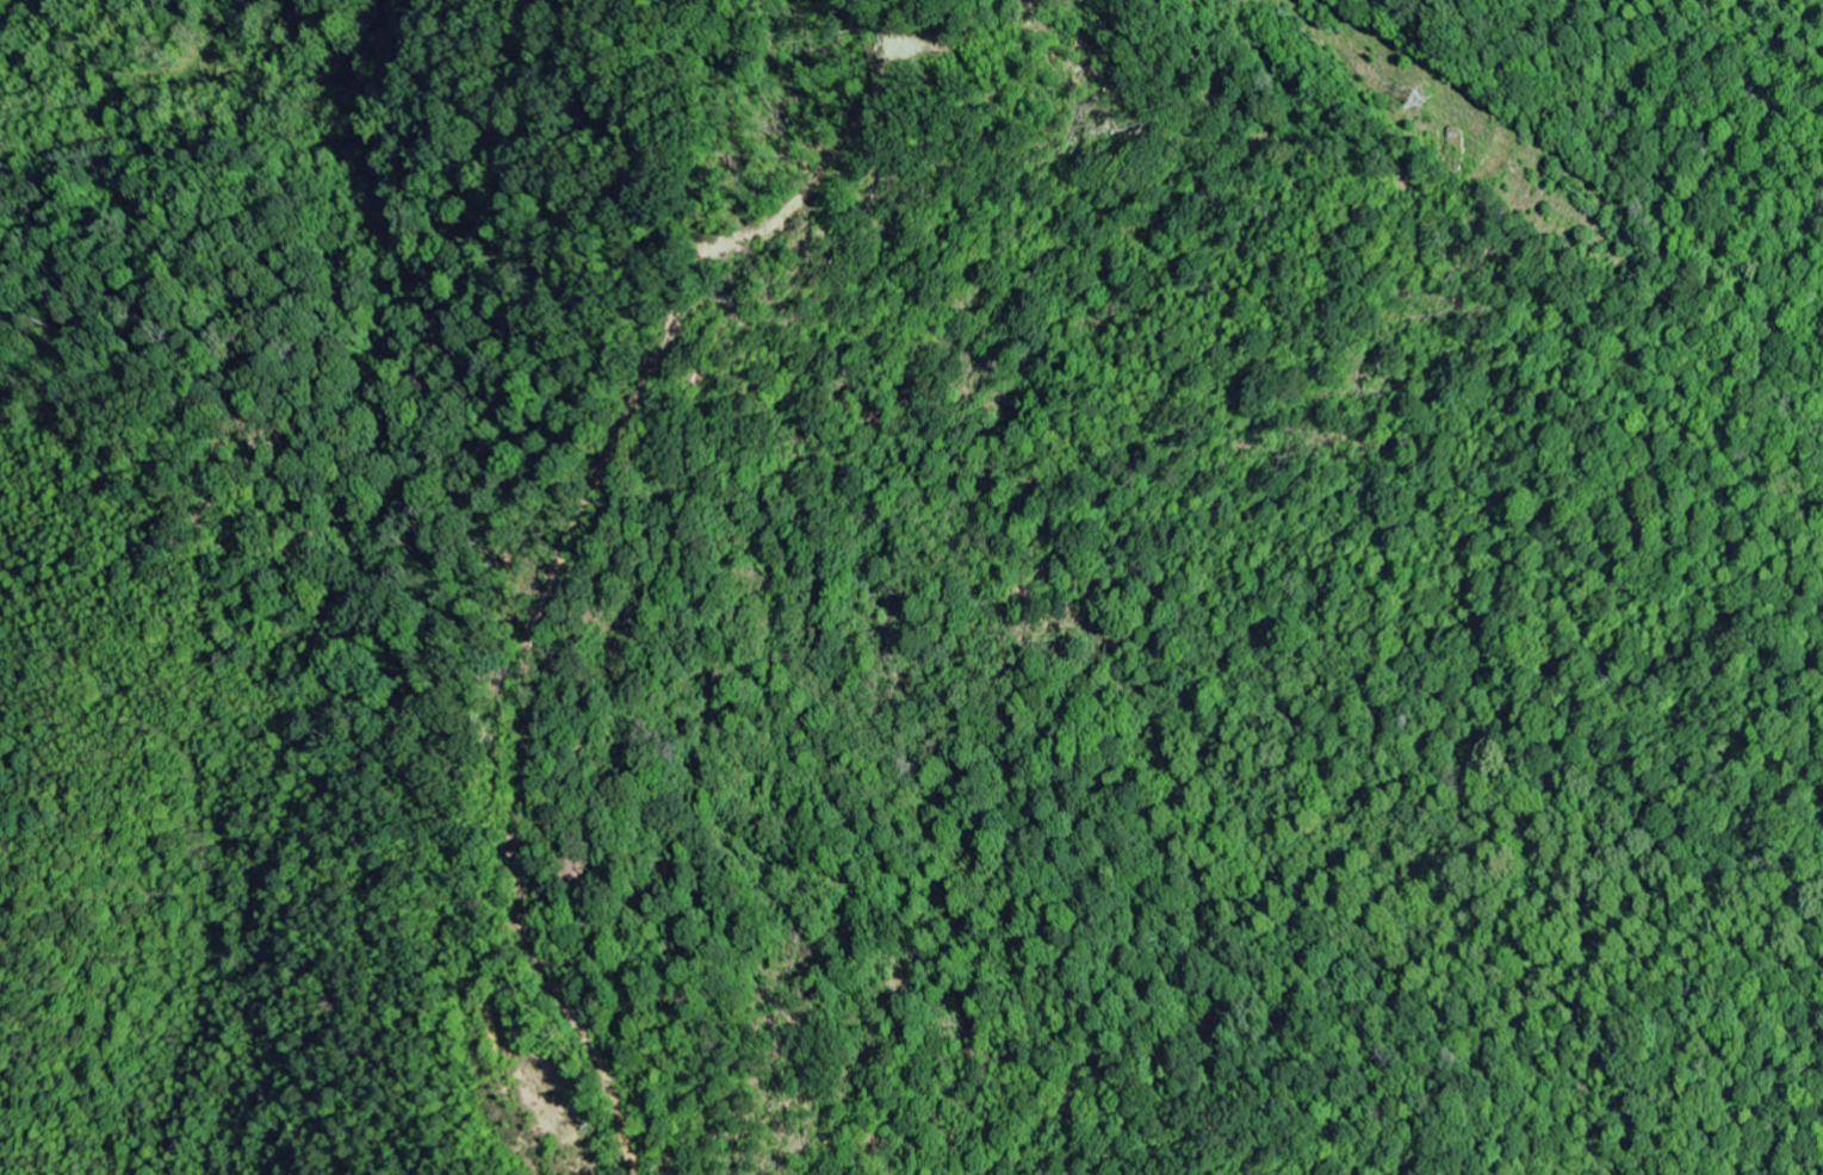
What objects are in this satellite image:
power tower: (1422, 98)

